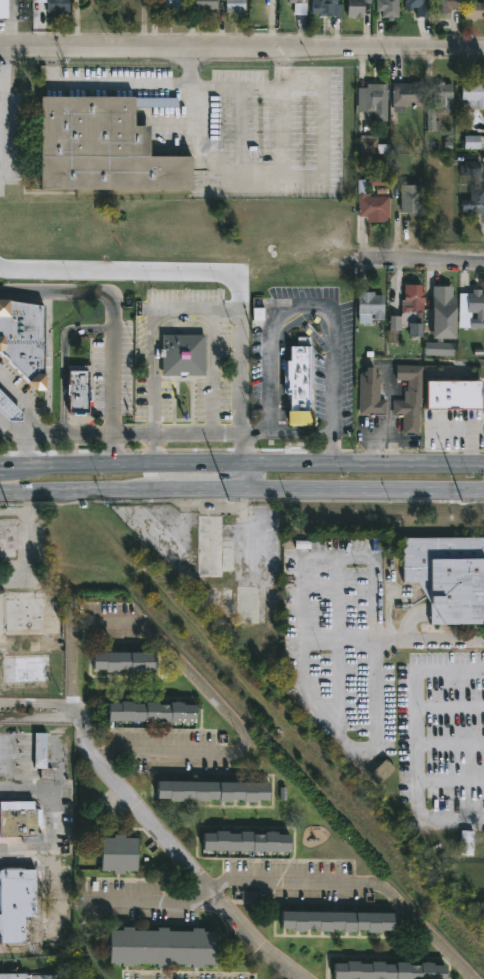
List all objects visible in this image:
building: (172, 5)
building: (206, 5)
building: (236, 6)
building: (58, 7)
building: (300, 7)
building: (325, 7)
building: (420, 7)
building: (448, 7)
building: (357, 8)
building: (389, 8)
building: (3, 10)
building: (475, 10)
road: (242, 48)
road: (280, 68)
road: (0, 74)
road: (120, 84)
building: (474, 93)
building: (408, 95)
building: (374, 101)
building: (441, 104)
road: (1, 113)
road: (174, 125)
road: (241, 132)
road: (280, 132)
building: (373, 145)
building: (106, 146)
road: (320, 161)
building: (479, 187)
building: (412, 200)
building: (373, 203)
road: (423, 264)
road: (135, 273)
building: (369, 304)
road: (320, 305)
building: (477, 308)
road: (189, 310)
building: (414, 312)
building: (443, 317)
building: (24, 340)
road: (280, 348)
building: (182, 355)
road: (111, 371)
road: (210, 372)
building: (297, 379)
building: (77, 390)
building: (371, 394)
building: (409, 396)
building: (9, 409)
gas station: (9, 409)
road: (30, 415)
building: (441, 428)
road: (274, 433)
road: (305, 433)
road: (71, 434)
road: (382, 435)
road: (249, 438)
road: (241, 461)
road: (243, 475)
road: (241, 489)
road: (241, 500)
road: (30, 501)
power tower: (228, 501)
power tower: (463, 501)
power tower: (7, 508)
road: (13, 511)
building: (9, 538)
road: (338, 556)
road: (27, 557)
building: (227, 565)
road: (13, 566)
building: (448, 576)
building: (24, 612)
road: (430, 641)
road: (338, 642)
building: (125, 661)
building: (28, 670)
road: (198, 681)
railway: (243, 685)
road: (35, 703)
building: (152, 710)
road: (35, 716)
road: (415, 742)
road: (353, 745)
building: (42, 755)
building: (382, 771)
building: (215, 790)
road: (27, 791)
building: (18, 821)
building: (248, 840)
building: (468, 842)
road: (173, 851)
building: (120, 853)
road: (10, 857)
road: (357, 884)
road: (154, 902)
building: (17, 903)
building: (339, 921)
building: (162, 947)
building: (389, 971)
building: (13, 976)
road: (291, 978)

